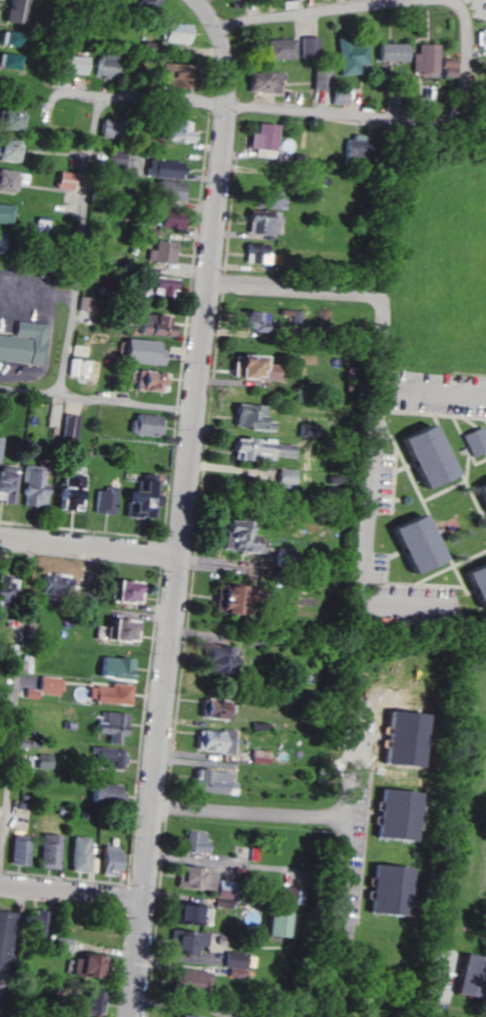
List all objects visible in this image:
road: (451, 2)
building: (152, 3)
building: (286, 3)
road: (373, 7)
building: (13, 11)
building: (174, 32)
building: (8, 37)
building: (480, 37)
building: (310, 45)
building: (281, 48)
building: (391, 52)
building: (351, 56)
building: (424, 58)
building: (9, 60)
building: (68, 63)
building: (101, 64)
building: (444, 66)
building: (167, 74)
building: (322, 78)
building: (484, 78)
building: (263, 81)
road: (73, 95)
building: (340, 96)
road: (296, 111)
building: (8, 118)
building: (102, 129)
building: (176, 131)
building: (261, 140)
building: (354, 146)
building: (6, 149)
building: (114, 158)
building: (162, 168)
building: (8, 180)
building: (62, 180)
building: (168, 189)
building: (264, 197)
building: (5, 214)
building: (166, 218)
building: (261, 222)
building: (39, 224)
road: (81, 246)
building: (161, 252)
building: (255, 253)
building: (157, 286)
building: (246, 321)
building: (151, 324)
building: (24, 343)
building: (140, 351)
building: (250, 368)
building: (150, 381)
road: (433, 388)
road: (99, 399)
road: (379, 404)
building: (248, 417)
building: (146, 424)
building: (70, 426)
building: (0, 437)
building: (474, 441)
building: (242, 448)
building: (267, 449)
building: (423, 454)
building: (285, 478)
building: (8, 484)
building: (34, 486)
building: (481, 494)
building: (71, 495)
building: (105, 500)
building: (141, 500)
road: (189, 504)
building: (234, 535)
building: (413, 543)
road: (92, 547)
building: (476, 583)
building: (45, 584)
road: (451, 594)
building: (223, 598)
building: (120, 630)
building: (215, 659)
building: (115, 668)
building: (51, 685)
road: (18, 693)
building: (30, 693)
building: (110, 694)
building: (211, 709)
building: (215, 741)
building: (260, 756)
building: (109, 757)
building: (208, 781)
building: (103, 793)
road: (347, 802)
road: (252, 814)
building: (395, 815)
building: (196, 842)
building: (17, 850)
building: (48, 851)
building: (78, 854)
building: (107, 860)
road: (340, 872)
building: (195, 878)
building: (387, 891)
road: (74, 892)
building: (188, 914)
building: (276, 923)
building: (32, 925)
building: (4, 936)
building: (58, 942)
building: (186, 943)
building: (234, 963)
building: (84, 966)
building: (463, 976)
building: (187, 980)
road: (433, 984)
building: (87, 1004)
building: (162, 1016)

